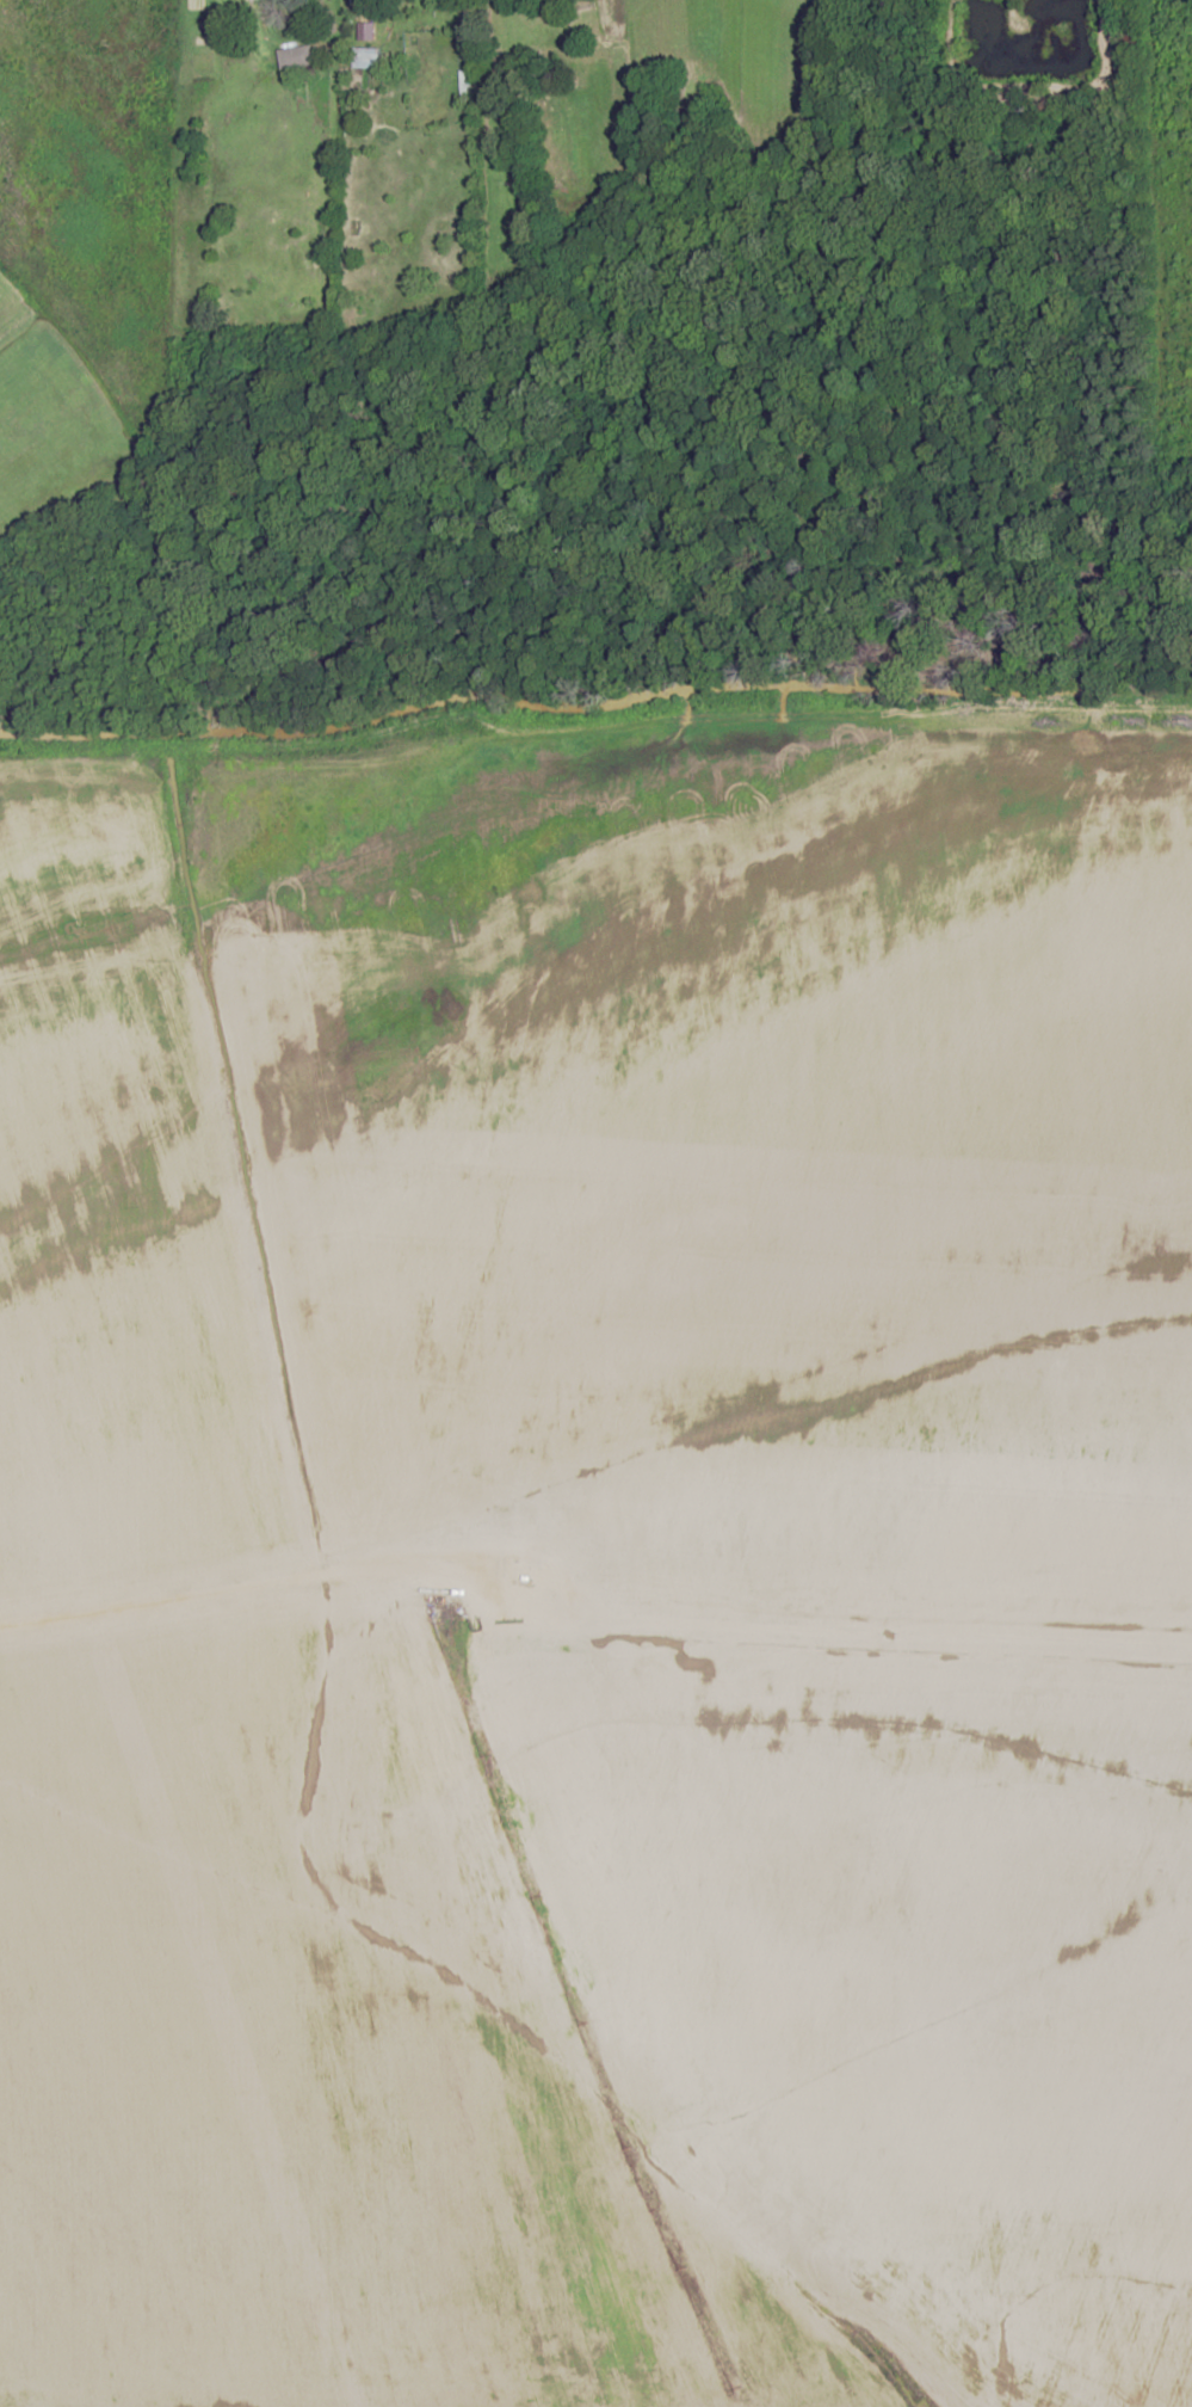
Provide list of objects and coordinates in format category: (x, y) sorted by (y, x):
road: (245, 13)
building: (296, 56)
building: (366, 57)
road: (587, 1620)

